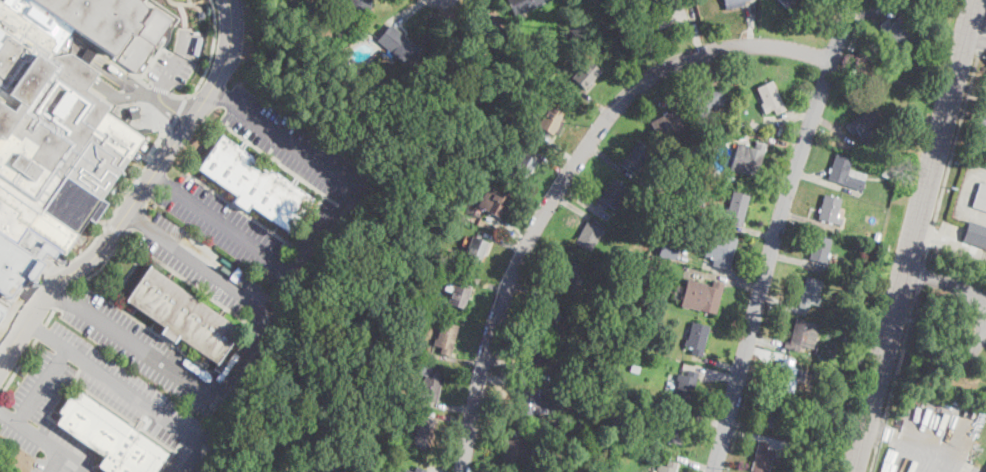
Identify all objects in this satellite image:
road: (190, 2)
building: (788, 2)
building: (734, 3)
road: (188, 4)
building: (522, 5)
road: (980, 6)
building: (360, 7)
road: (475, 8)
road: (408, 12)
road: (874, 14)
building: (668, 16)
building: (98, 19)
road: (750, 23)
road: (695, 30)
road: (842, 30)
road: (985, 30)
building: (342, 31)
building: (896, 32)
building: (483, 33)
building: (928, 34)
road: (975, 40)
road: (981, 40)
road: (87, 43)
building: (397, 45)
road: (85, 52)
road: (209, 60)
road: (179, 61)
road: (712, 67)
building: (586, 73)
road: (93, 78)
road: (890, 78)
road: (160, 90)
building: (546, 92)
road: (160, 93)
road: (671, 93)
road: (220, 94)
building: (398, 96)
building: (771, 98)
road: (593, 100)
building: (709, 100)
road: (174, 112)
road: (176, 114)
road: (789, 116)
building: (900, 116)
building: (550, 119)
building: (666, 123)
building: (744, 124)
parking lot: (981, 125)
building: (753, 126)
building: (867, 127)
road: (833, 128)
building: (739, 132)
building: (51, 137)
road: (957, 138)
road: (775, 141)
building: (143, 146)
road: (558, 147)
building: (636, 156)
building: (748, 158)
road: (607, 159)
road: (548, 161)
building: (894, 161)
building: (985, 165)
building: (524, 166)
building: (695, 168)
building: (886, 171)
building: (846, 173)
building: (448, 174)
road: (568, 175)
building: (905, 176)
road: (137, 178)
building: (730, 178)
building: (678, 179)
road: (157, 180)
road: (828, 182)
building: (254, 184)
parking lot: (352, 188)
building: (612, 194)
road: (139, 195)
building: (698, 197)
road: (965, 197)
building: (980, 198)
road: (148, 200)
building: (494, 201)
road: (582, 201)
building: (737, 207)
road: (577, 209)
building: (830, 209)
building: (686, 214)
road: (137, 218)
building: (671, 220)
road: (807, 220)
road: (103, 221)
road: (137, 221)
road: (504, 225)
road: (114, 229)
road: (751, 229)
road: (127, 233)
building: (975, 234)
building: (589, 235)
building: (876, 235)
road: (927, 235)
road: (915, 236)
road: (327, 238)
road: (930, 238)
road: (499, 241)
road: (963, 246)
building: (476, 249)
building: (717, 249)
building: (820, 249)
building: (668, 250)
building: (870, 252)
building: (445, 255)
road: (926, 255)
road: (798, 261)
road: (768, 264)
road: (101, 268)
road: (56, 269)
road: (722, 270)
building: (568, 274)
road: (920, 276)
building: (634, 277)
building: (864, 278)
road: (39, 279)
road: (725, 280)
road: (188, 281)
road: (532, 281)
road: (481, 282)
road: (947, 283)
road: (529, 290)
building: (810, 292)
road: (62, 293)
building: (458, 293)
road: (247, 294)
road: (63, 295)
building: (702, 296)
building: (648, 297)
road: (784, 305)
road: (14, 309)
road: (52, 313)
building: (182, 315)
building: (545, 316)
parking lot: (102, 319)
road: (138, 319)
road: (36, 327)
road: (42, 331)
building: (803, 334)
building: (446, 337)
building: (697, 338)
road: (767, 339)
building: (381, 340)
building: (600, 341)
building: (847, 341)
road: (976, 342)
road: (143, 348)
building: (353, 354)
road: (764, 354)
road: (901, 354)
building: (536, 357)
road: (456, 358)
road: (716, 363)
road: (18, 367)
road: (509, 368)
building: (634, 369)
road: (712, 373)
parking lot: (985, 375)
building: (789, 376)
building: (430, 383)
road: (40, 384)
road: (530, 384)
building: (686, 386)
building: (624, 388)
parking lot: (129, 392)
building: (395, 393)
building: (590, 395)
building: (618, 397)
road: (138, 398)
building: (825, 399)
building: (535, 403)
road: (447, 405)
building: (780, 415)
road: (449, 418)
road: (699, 418)
building: (569, 423)
road: (747, 424)
building: (584, 426)
building: (676, 429)
road: (503, 430)
building: (424, 434)
road: (753, 435)
parking lot: (935, 435)
building: (109, 437)
building: (805, 439)
road: (43, 440)
building: (371, 441)
road: (913, 441)
building: (515, 450)
building: (763, 457)
road: (875, 458)
building: (371, 459)
road: (925, 460)
road: (55, 463)
building: (556, 464)
road: (698, 466)
road: (434, 467)
building: (667, 467)
building: (419, 469)
building: (408, 471)
road: (715, 471)
building: (809, 471)

